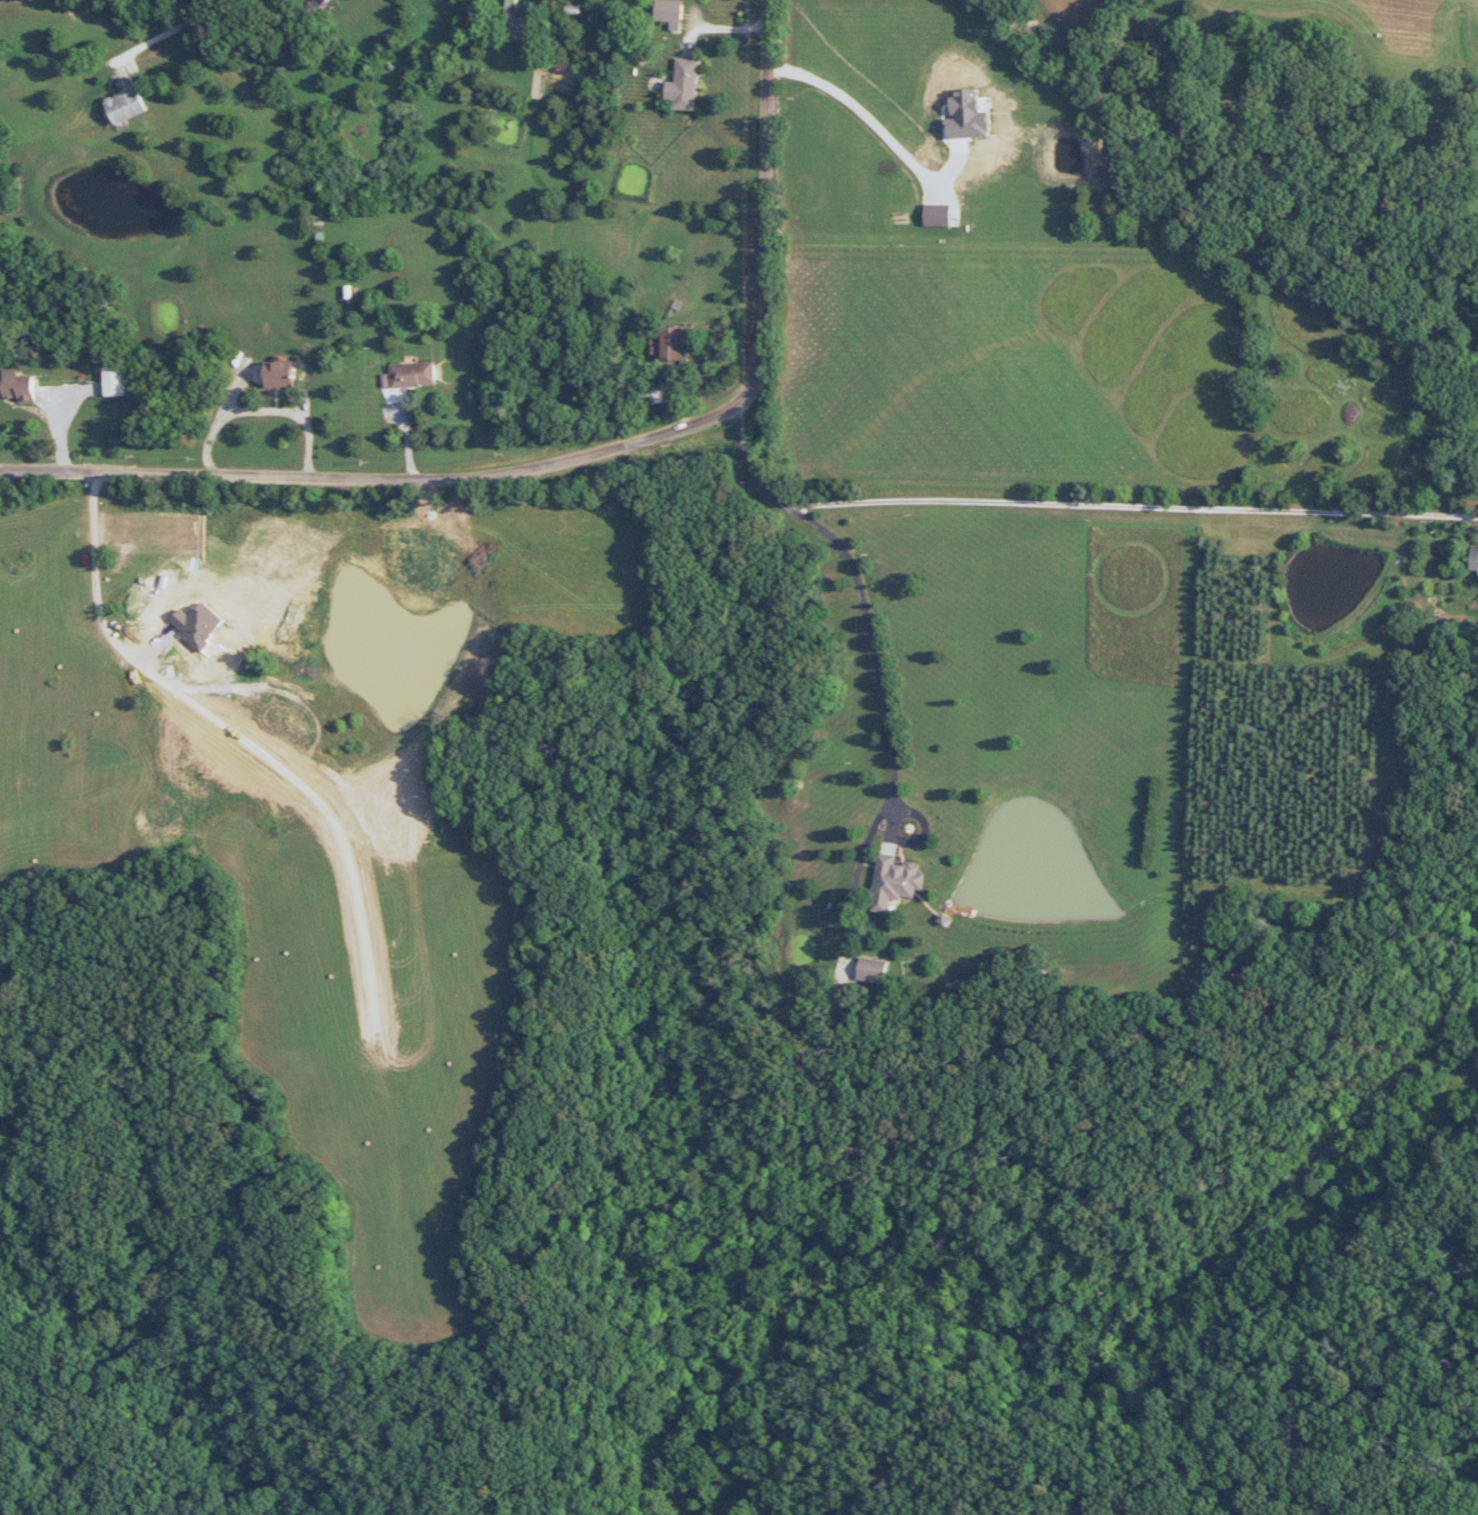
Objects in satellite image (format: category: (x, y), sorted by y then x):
building: (327, 2)
building: (509, 4)
building: (670, 10)
building: (687, 83)
building: (129, 102)
road: (880, 133)
building: (676, 342)
building: (282, 374)
building: (415, 374)
building: (115, 381)
building: (21, 386)
road: (581, 455)
road: (1130, 510)
building: (1476, 557)
road: (874, 662)
road: (200, 688)
building: (248, 737)
building: (894, 878)
building: (871, 969)
building: (803, 1051)

